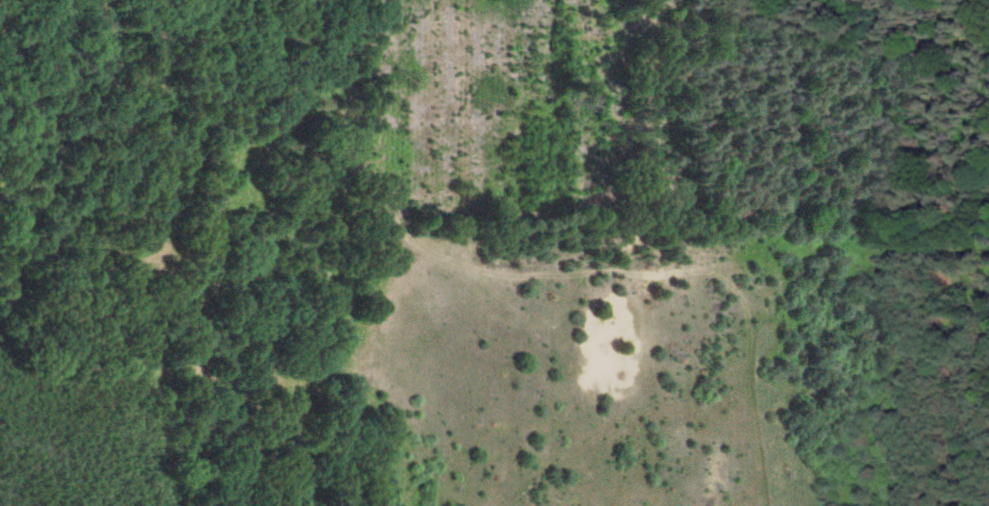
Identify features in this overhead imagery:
road: (34, 29)

